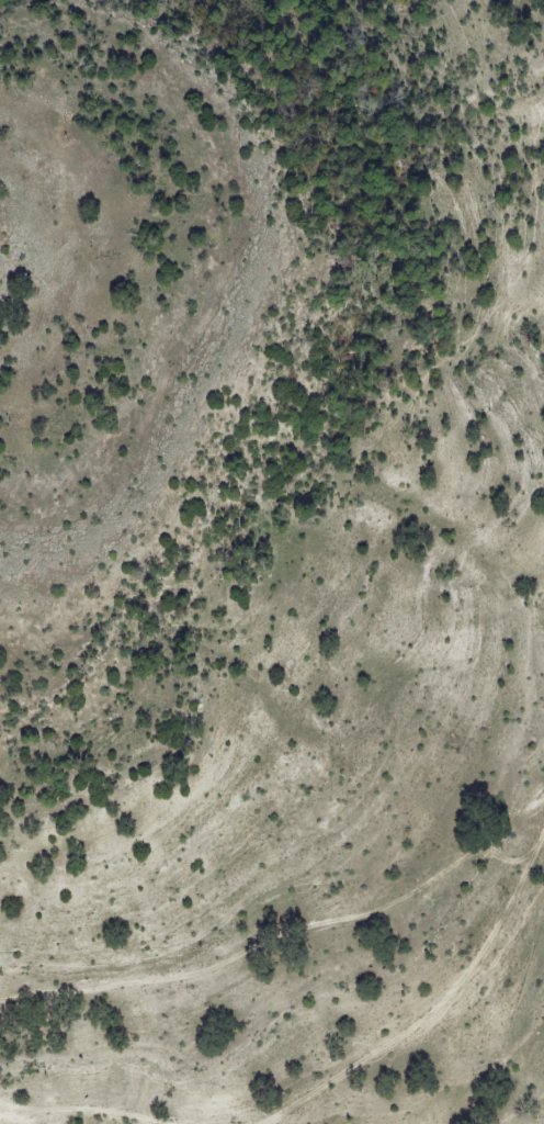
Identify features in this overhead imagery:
road: (286, 964)

